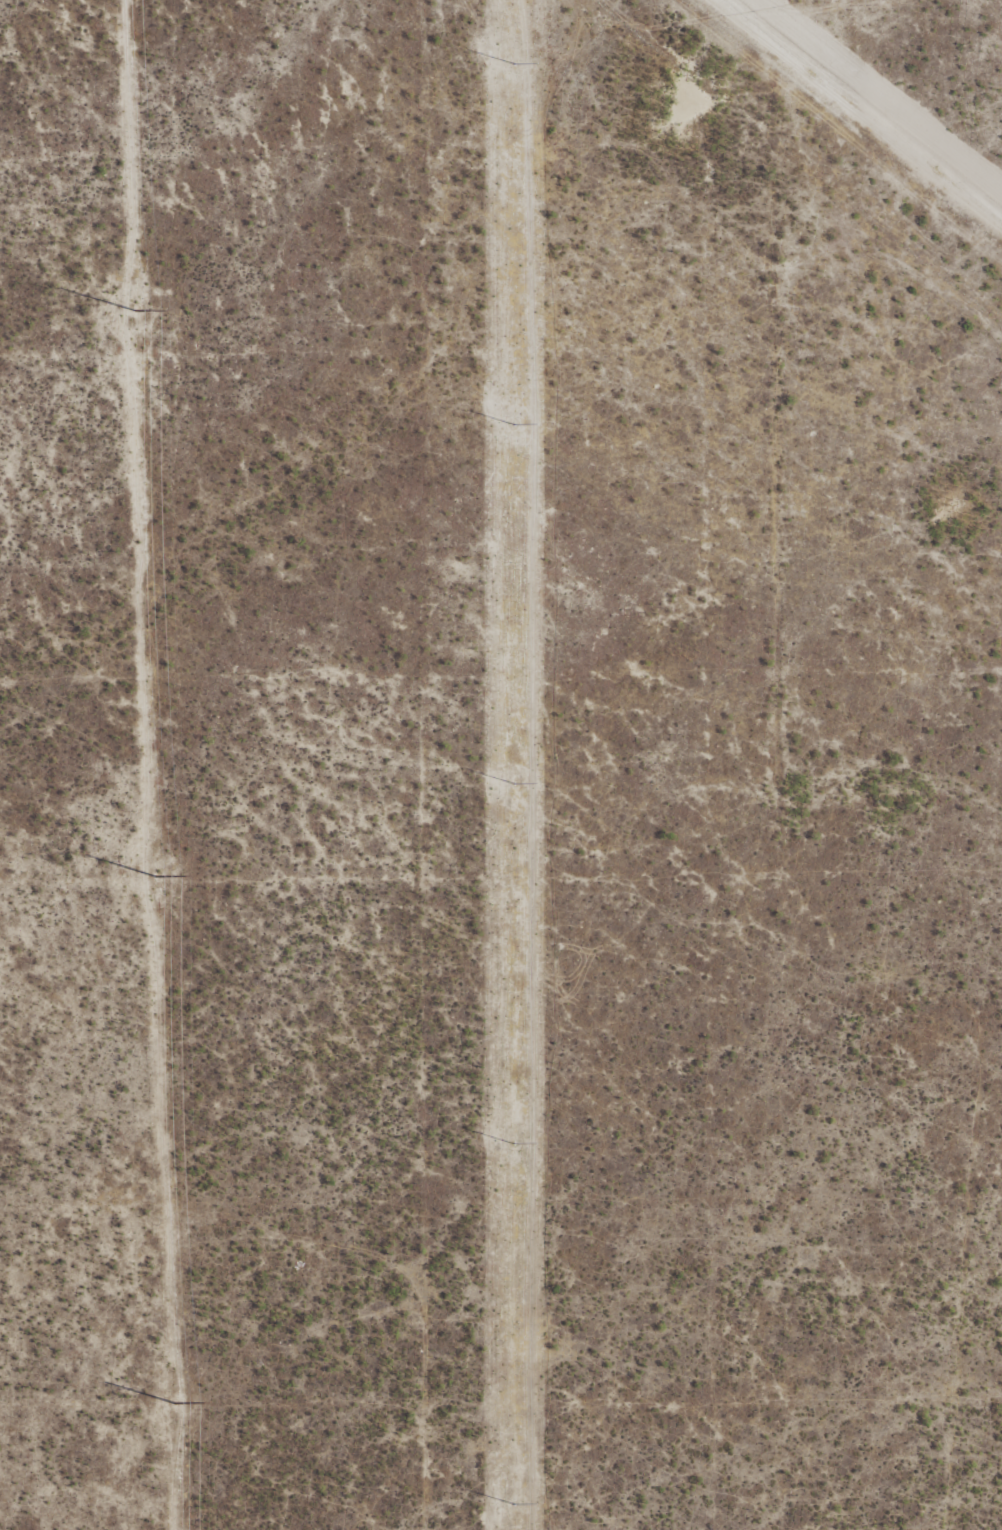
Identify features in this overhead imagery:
power tower: (514, 57)
power tower: (514, 418)
power tower: (514, 775)
road: (792, 814)
power tower: (513, 1136)
power tower: (513, 1496)

